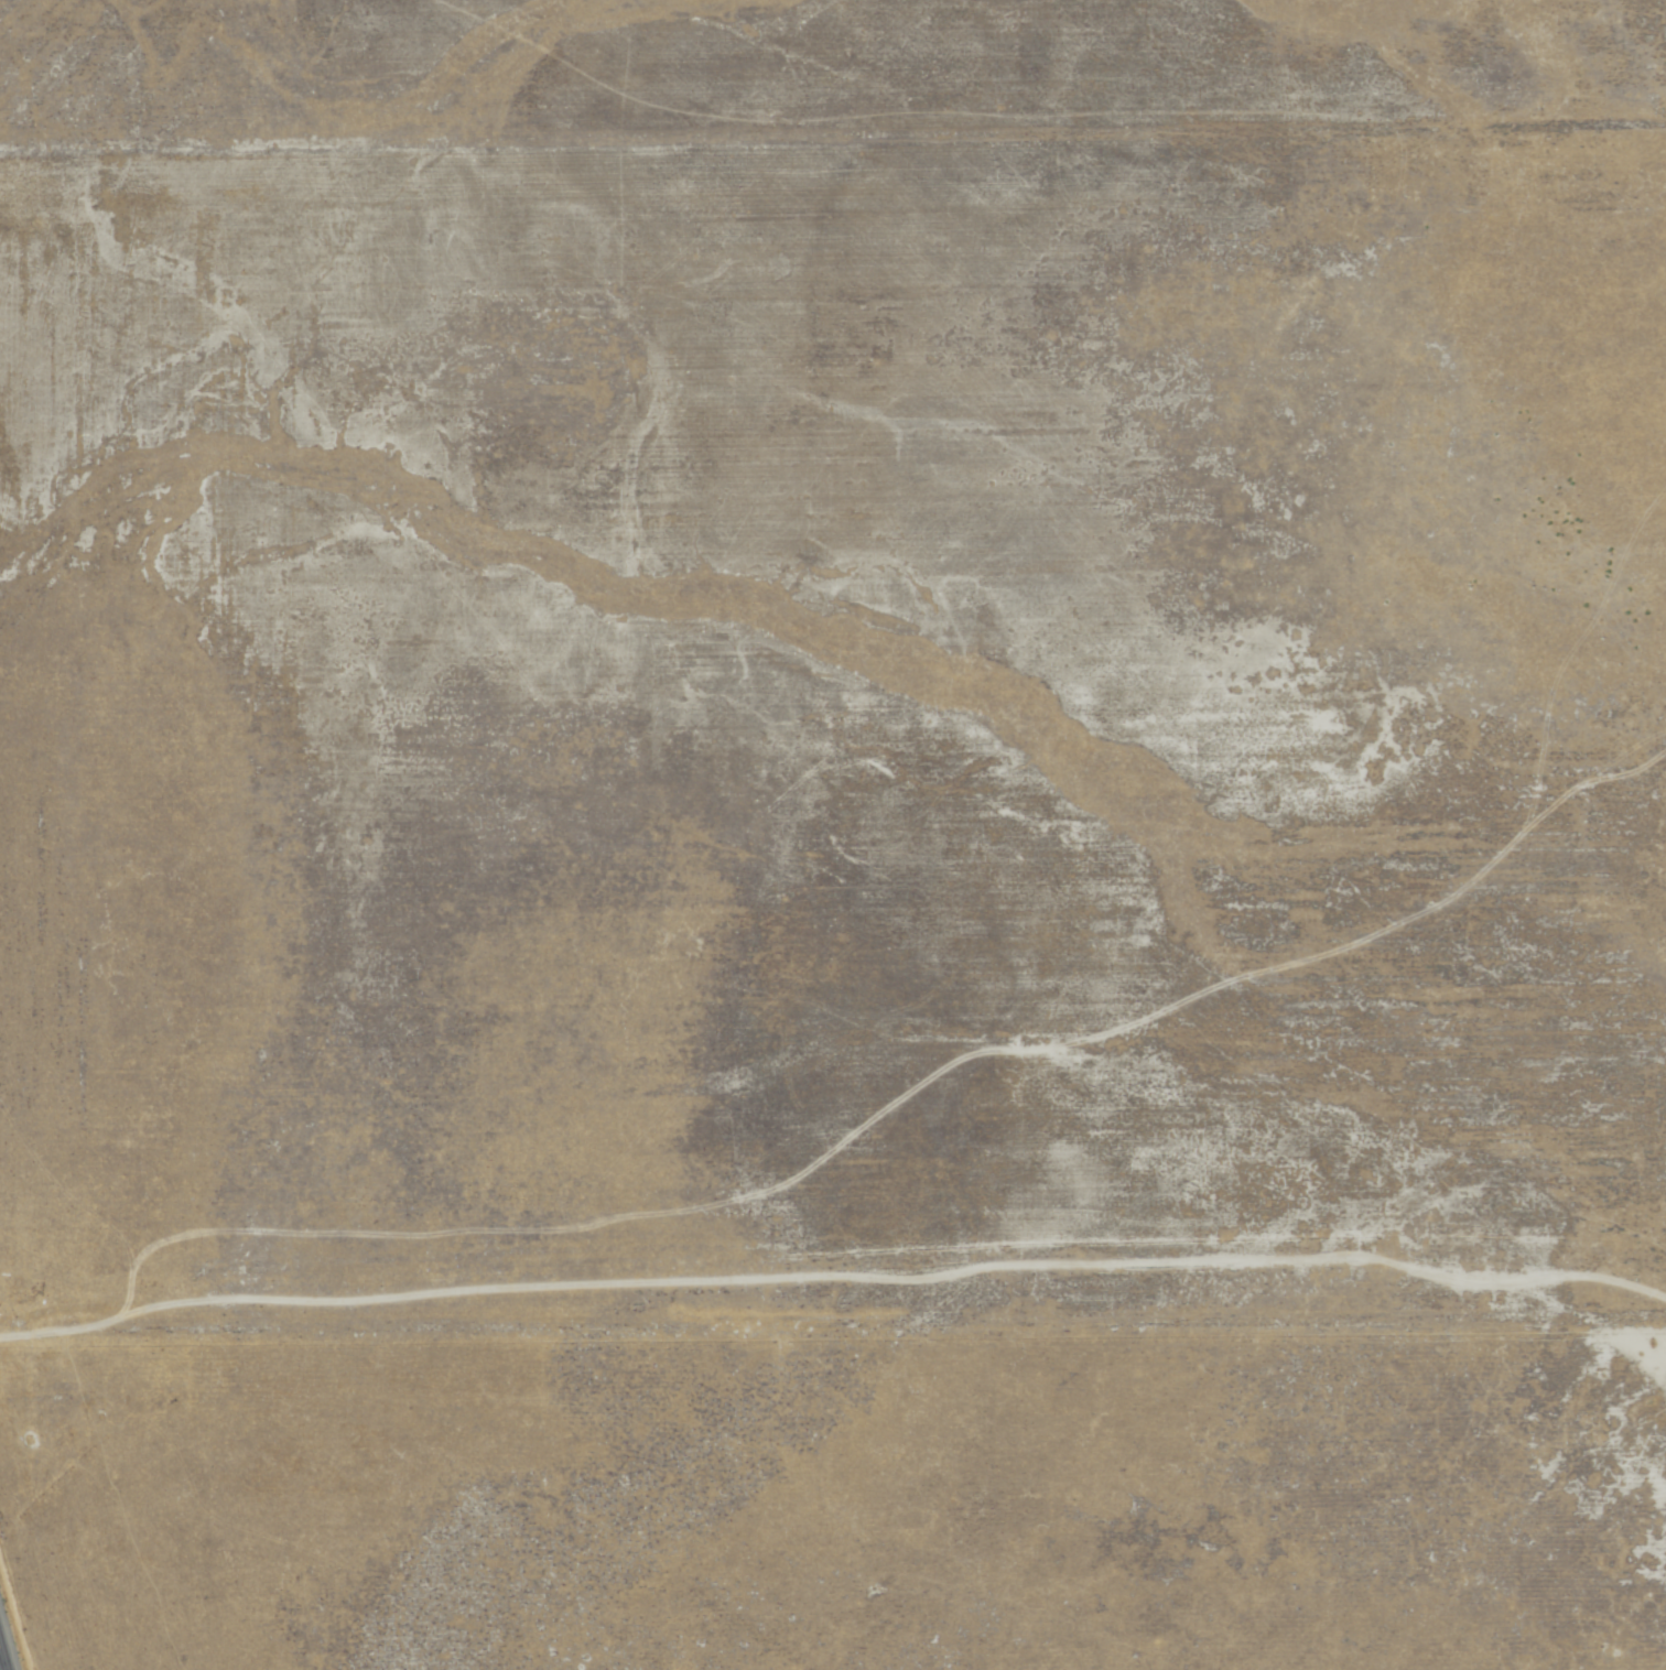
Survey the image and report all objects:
road: (4, 1652)

